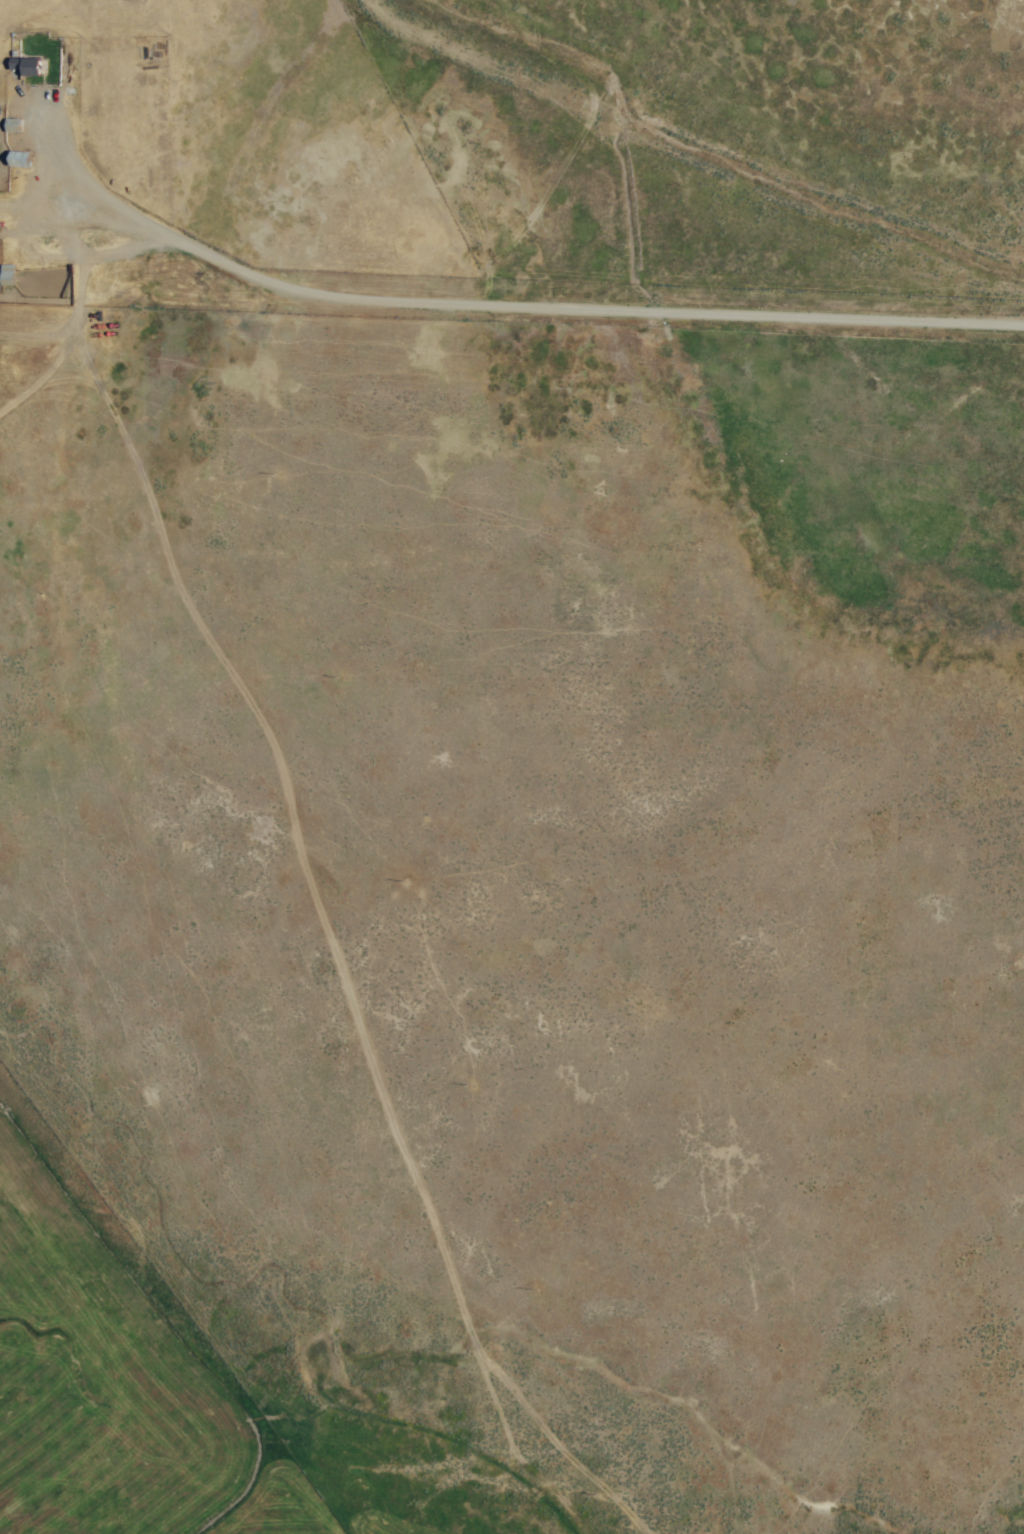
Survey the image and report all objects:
road: (510, 303)
crop: (512, 767)

